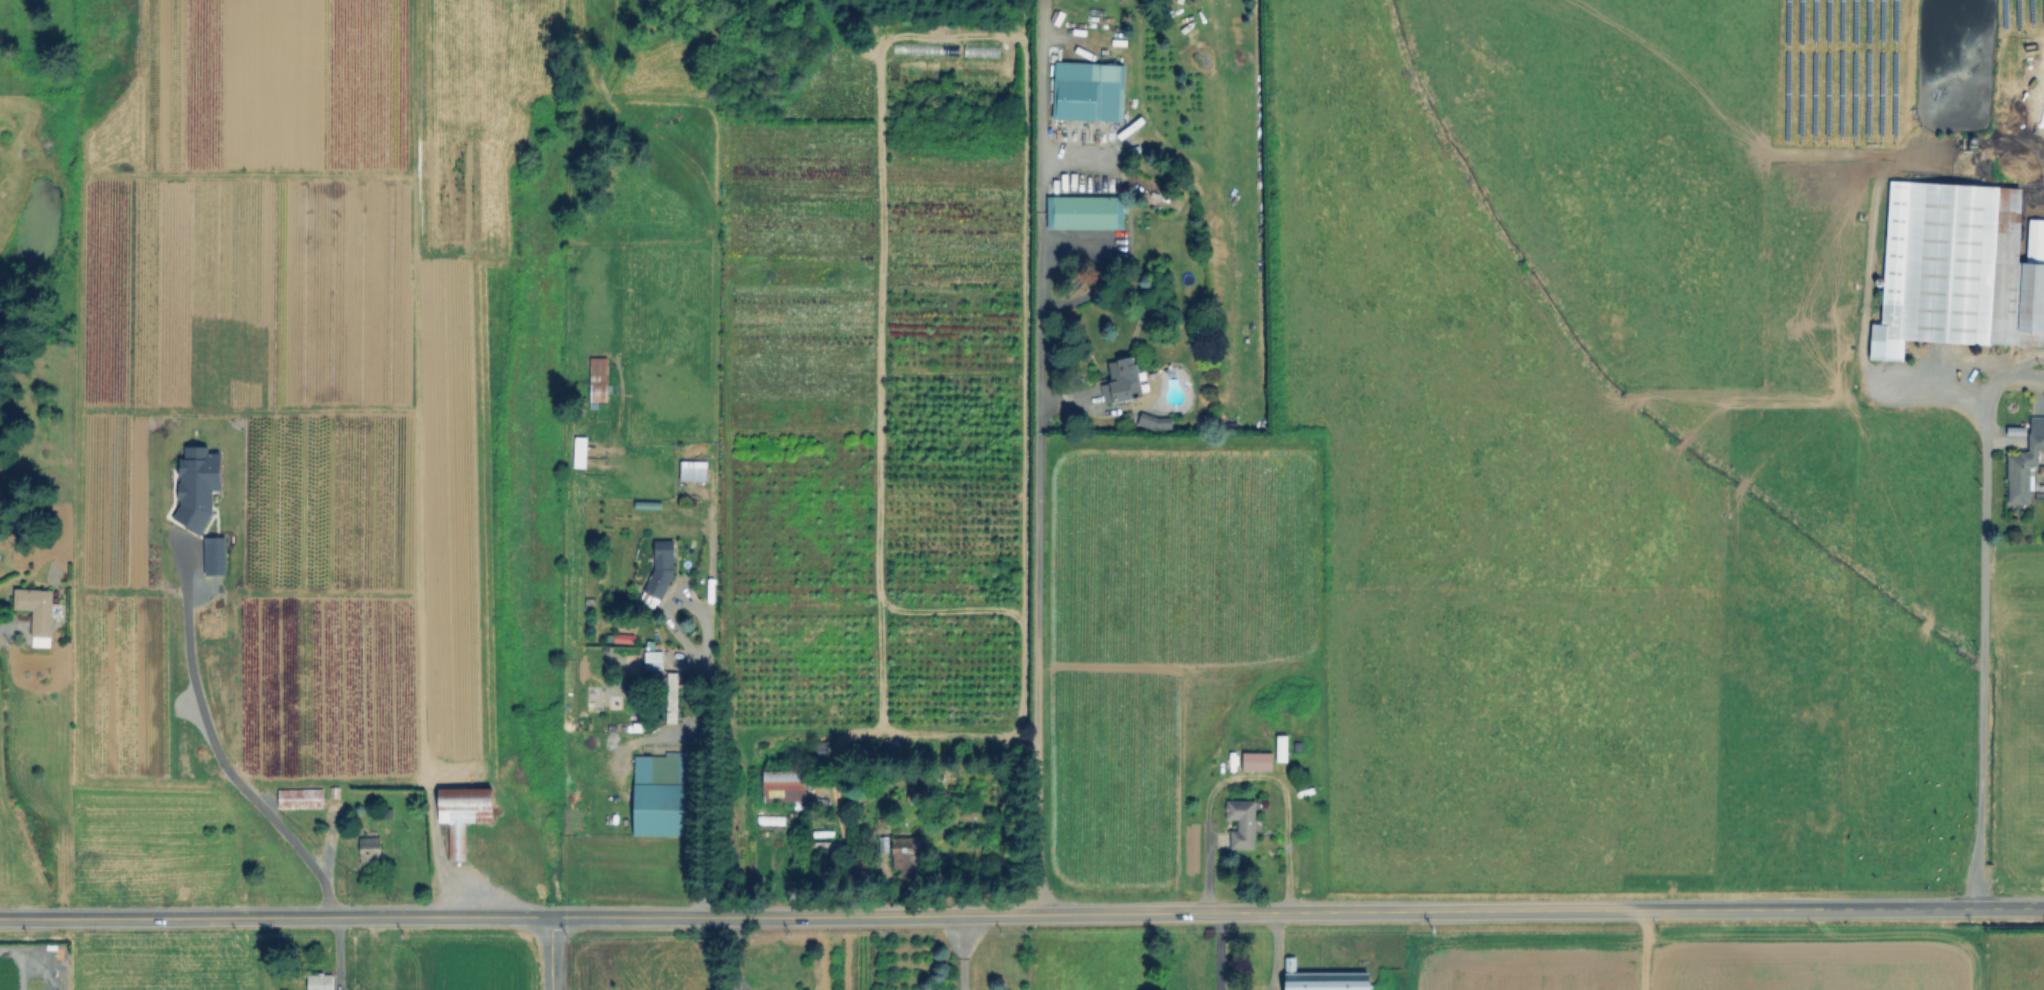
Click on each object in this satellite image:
building: (978, 49)
building: (1089, 91)
building: (1087, 212)
building: (596, 378)
building: (1124, 381)
building: (1156, 423)
building: (2014, 430)
crop: (1674, 444)
building: (2025, 468)
building: (691, 470)
road: (1038, 470)
building: (195, 486)
building: (213, 555)
building: (659, 567)
road: (1977, 614)
building: (39, 615)
building: (621, 637)
building: (651, 659)
building: (668, 697)
road: (705, 703)
road: (214, 747)
building: (1300, 748)
building: (794, 751)
building: (1285, 751)
building: (1258, 763)
building: (785, 785)
building: (658, 794)
building: (302, 800)
building: (464, 810)
building: (1243, 825)
building: (824, 844)
building: (371, 853)
building: (908, 854)
road: (1022, 912)
road: (726, 948)
road: (1217, 950)
road: (960, 951)
road: (1275, 951)
road: (552, 953)
crop: (1294, 966)
building: (1320, 978)
building: (320, 982)
road: (725, 986)
road: (730, 986)

